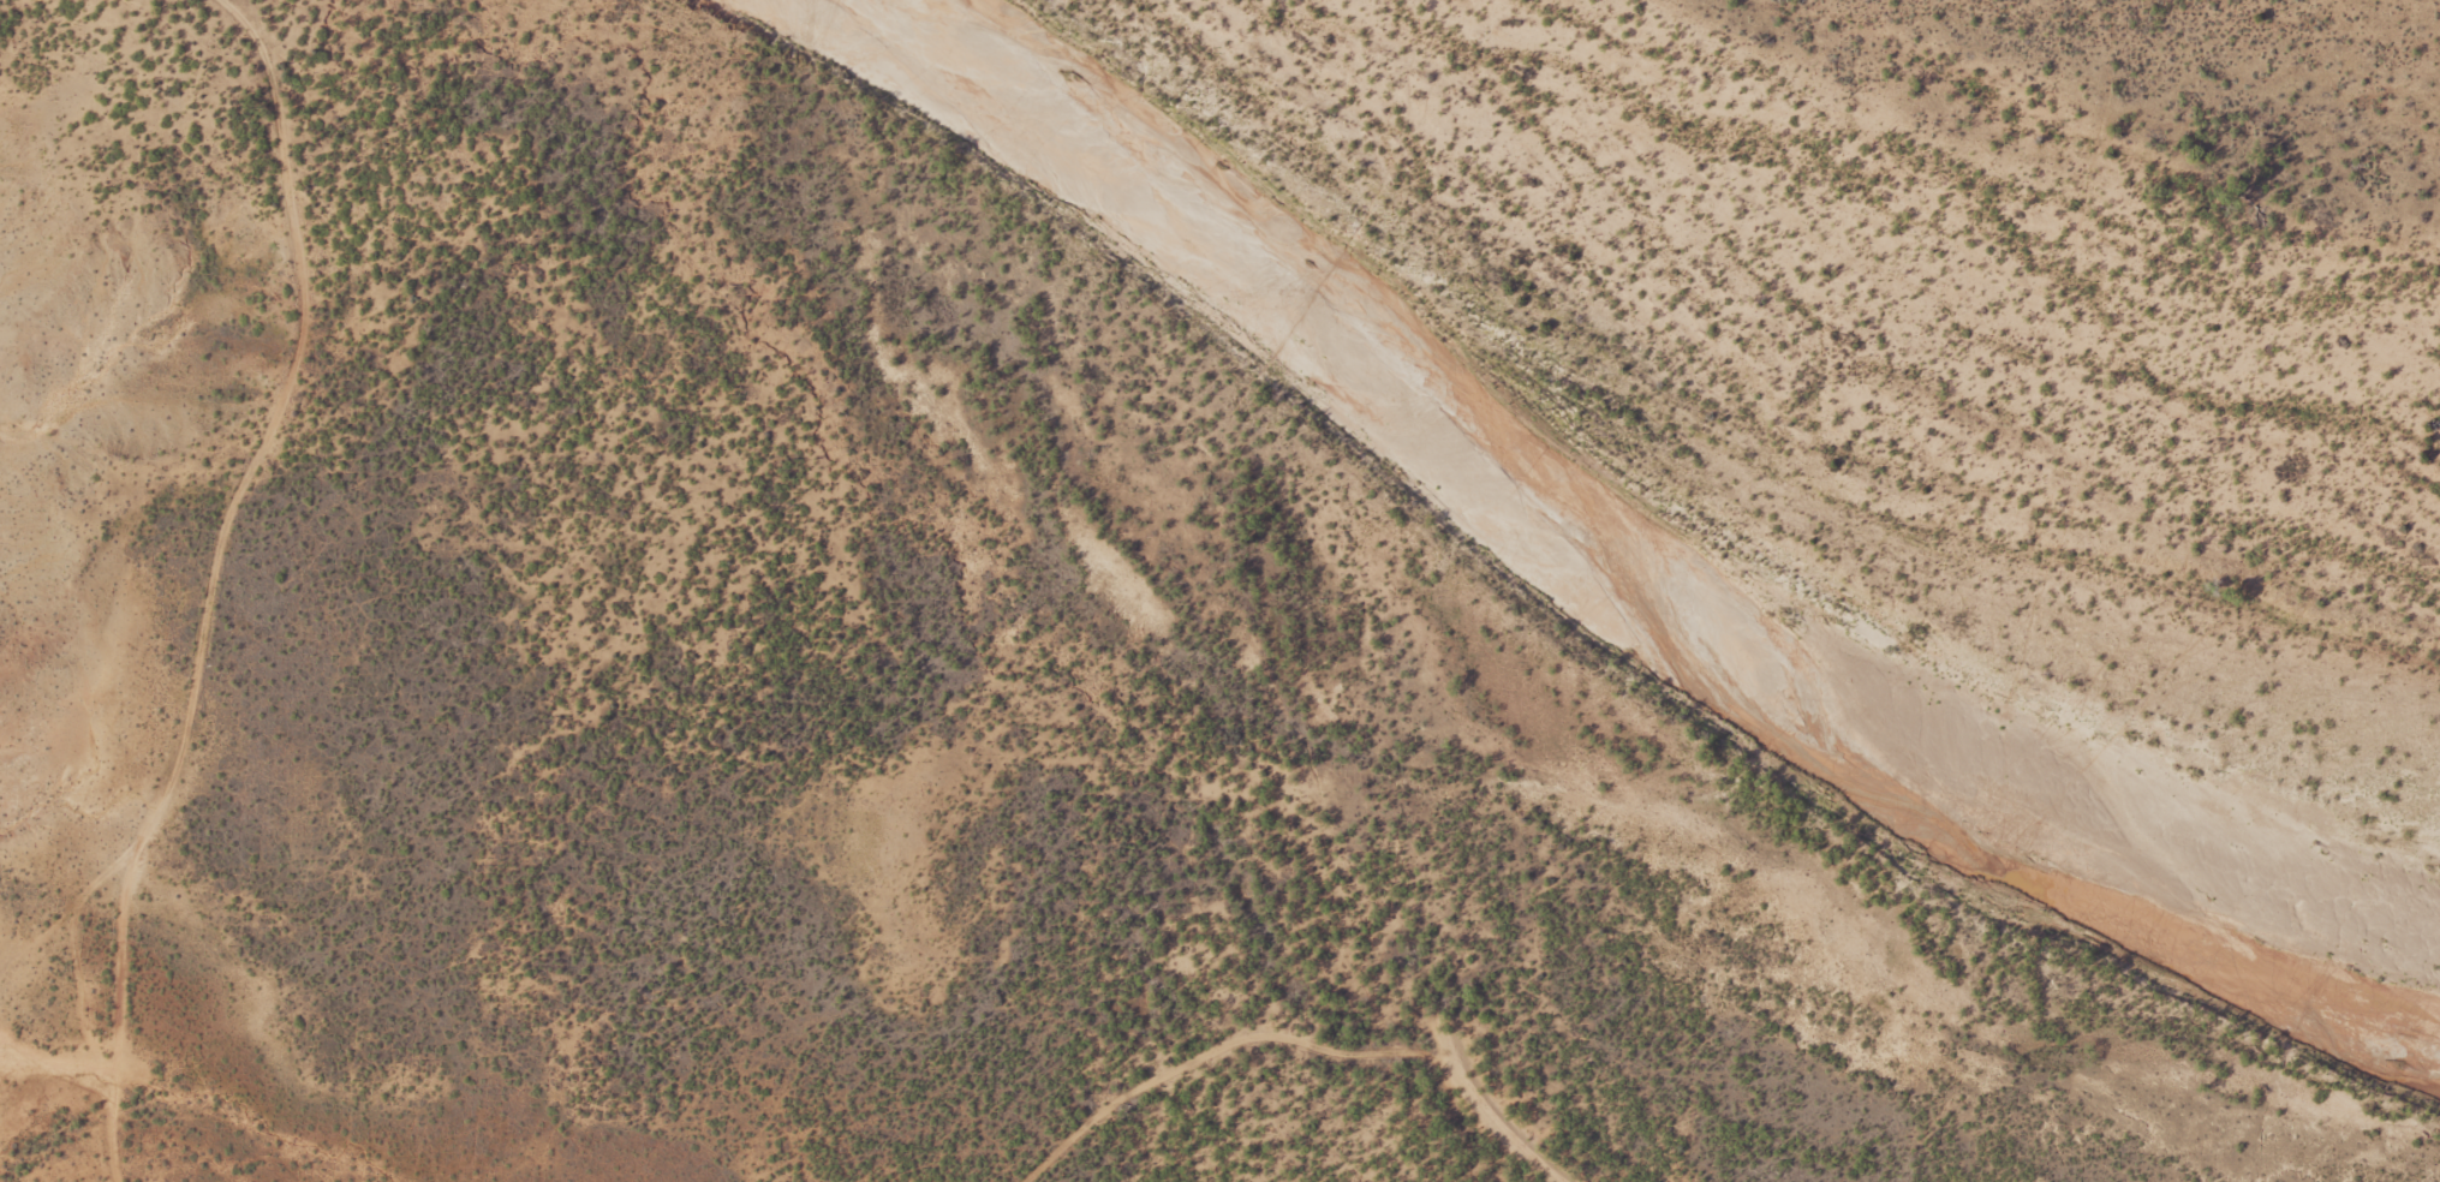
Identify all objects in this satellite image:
river: (1607, 587)

